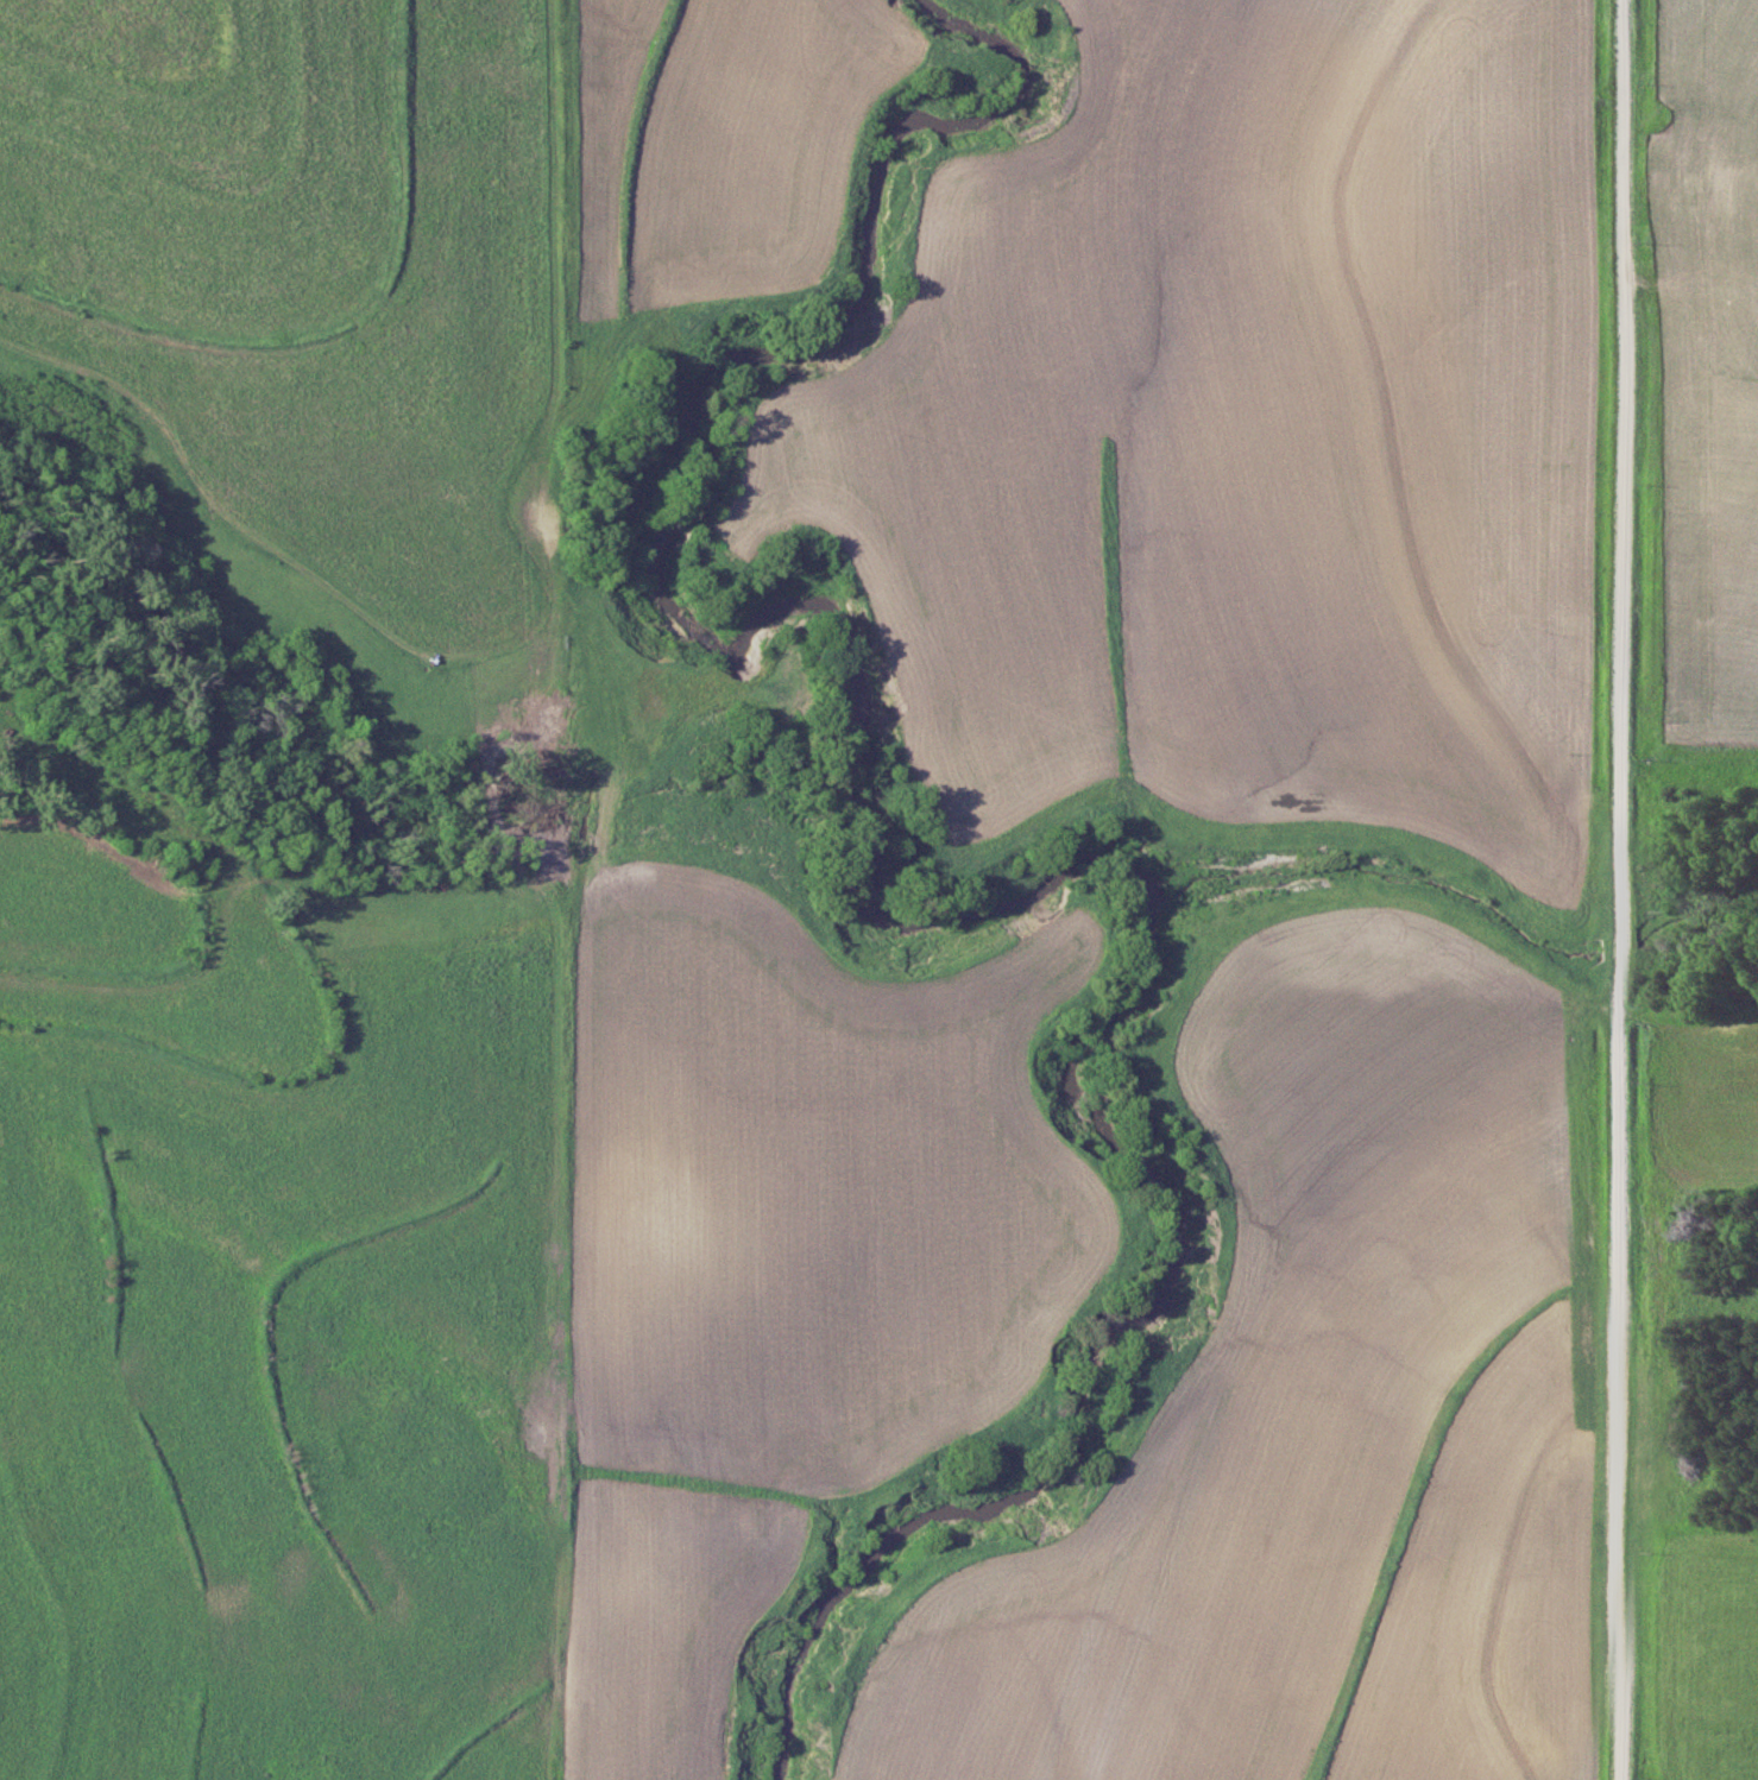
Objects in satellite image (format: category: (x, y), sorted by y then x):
building: (1733, 183)
road: (1689, 289)
building: (1752, 348)
road: (1620, 890)

